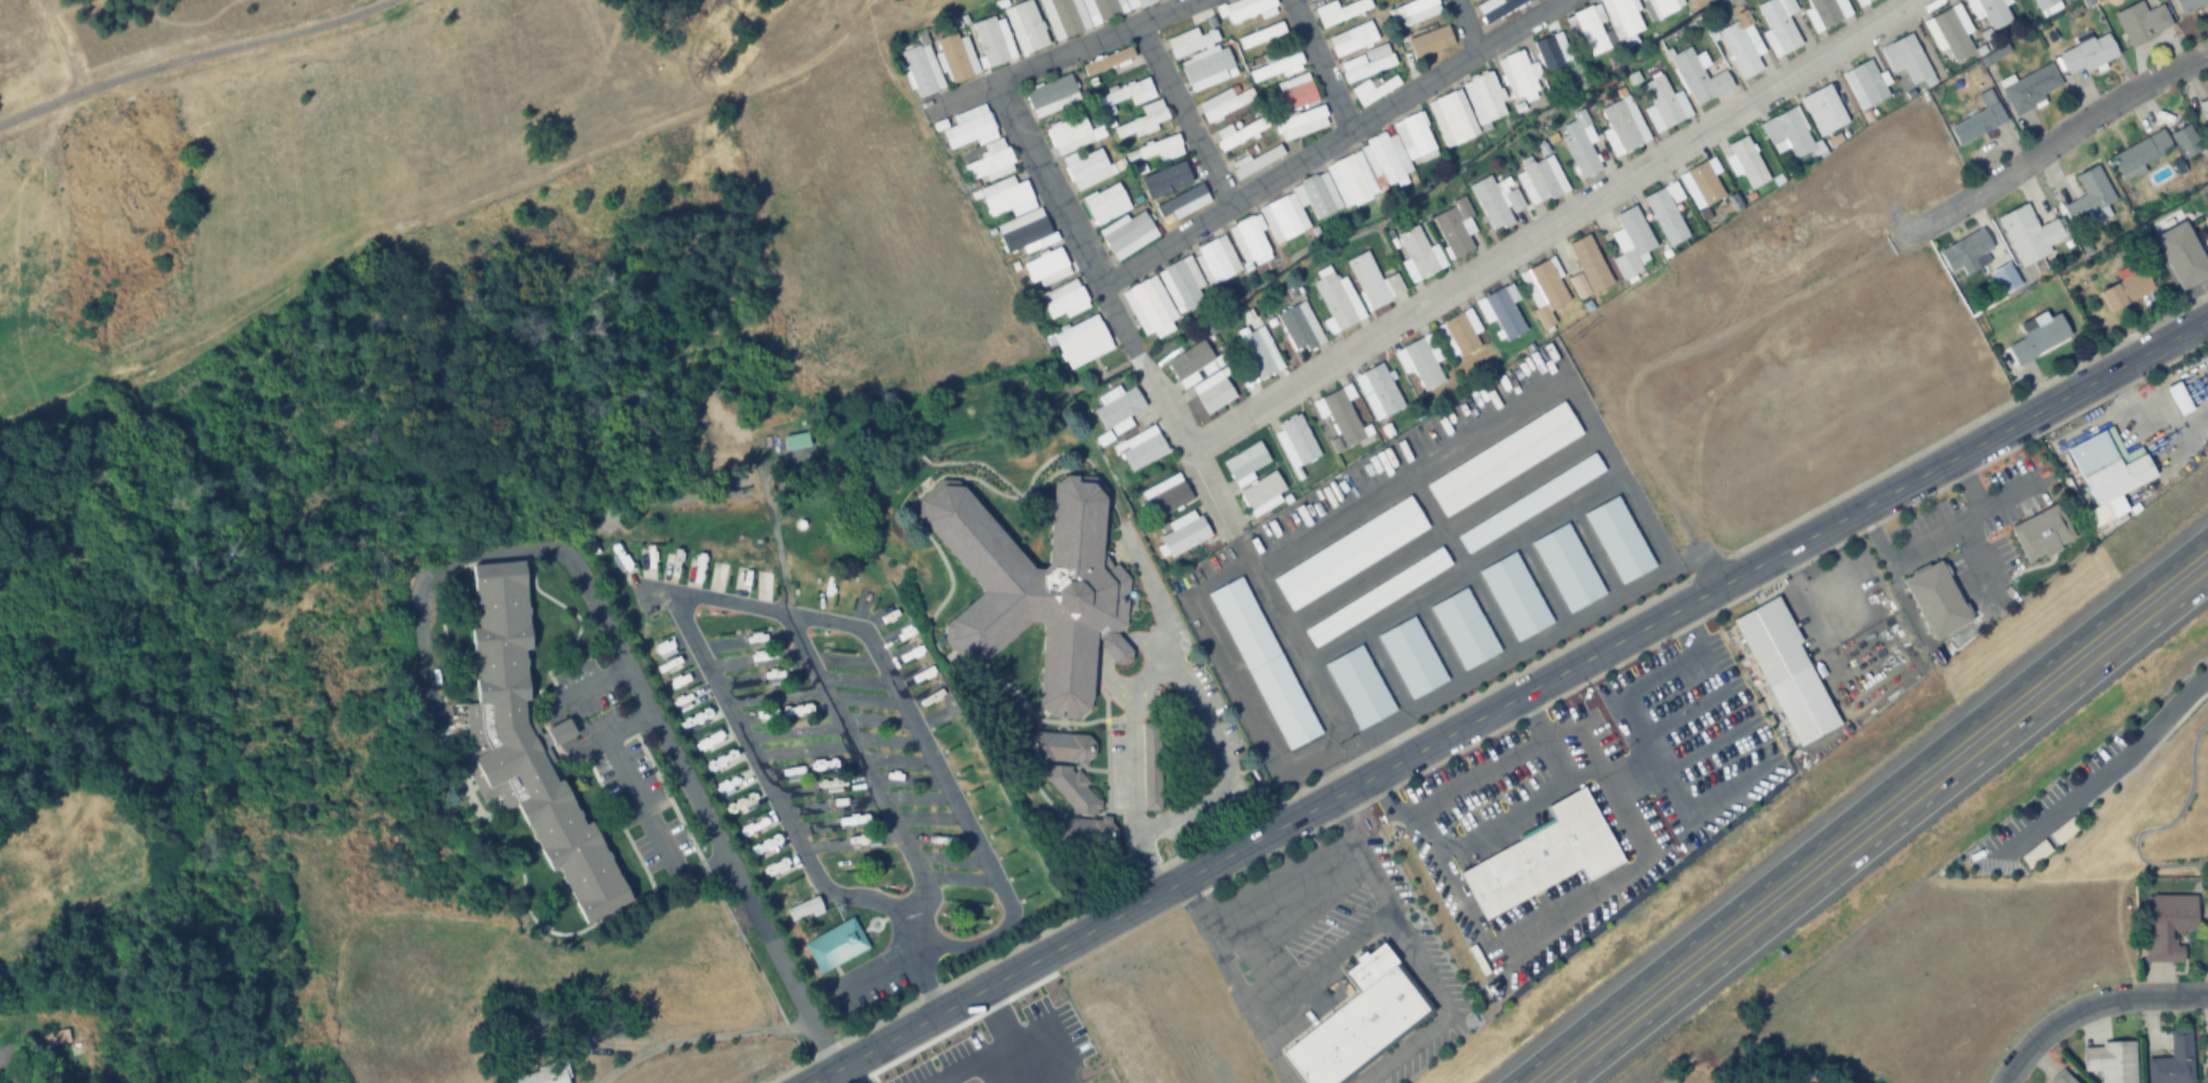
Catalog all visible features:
building: (1308, 0)
building: (1862, 2)
building: (2191, 4)
building: (2046, 5)
building: (1661, 8)
building: (1497, 9)
building: (1245, 10)
building: (1340, 11)
building: (1414, 11)
building: (1990, 11)
building: (1826, 12)
building: (1084, 13)
building: (1623, 17)
building: (2142, 21)
building: (1779, 25)
road: (1464, 26)
building: (1025, 27)
building: (1588, 30)
building: (1947, 34)
building: (1261, 35)
building: (1353, 38)
building: (992, 41)
building: (1431, 41)
road: (60, 46)
building: (1741, 46)
building: (1552, 51)
building: (2087, 51)
road: (196, 55)
building: (954, 57)
road: (881, 58)
building: (1200, 58)
building: (1907, 58)
building: (1115, 61)
building: (1366, 62)
road: (1323, 63)
road: (1456, 63)
building: (921, 70)
building: (1518, 76)
building: (1699, 76)
building: (1863, 85)
road: (1004, 86)
building: (1376, 87)
building: (2030, 87)
building: (1295, 91)
road: (954, 94)
building: (1126, 94)
building: (1051, 96)
building: (1484, 98)
building: (1224, 103)
building: (1664, 104)
building: (2204, 108)
building: (1823, 110)
road: (1184, 116)
building: (1451, 117)
building: (1978, 119)
building: (1142, 121)
building: (1300, 122)
building: (1624, 124)
road: (2070, 127)
building: (1239, 133)
building: (1788, 133)
building: (1071, 134)
building: (2184, 140)
park: (335, 141)
building: (992, 145)
building: (1580, 145)
building: (1157, 149)
building: (2142, 151)
building: (1257, 160)
building: (1746, 162)
building: (1088, 167)
building: (1171, 176)
building: (1349, 177)
building: (1540, 179)
building: (1702, 184)
building: (2088, 194)
building: (1496, 201)
building: (1105, 202)
building: (1182, 203)
road: (1229, 207)
building: (1666, 213)
building: (1014, 214)
road: (1551, 223)
building: (1453, 227)
building: (1127, 234)
building: (2031, 234)
building: (1249, 241)
building: (1630, 242)
building: (1965, 251)
building: (1418, 254)
building: (2182, 254)
building: (1214, 260)
building: (1046, 267)
building: (1588, 267)
building: (1181, 283)
building: (1372, 283)
building: (2126, 287)
building: (1543, 290)
building: (1063, 299)
building: (1335, 300)
building: (1148, 307)
building: (1501, 311)
road: (2206, 320)
building: (1298, 327)
building: (1459, 333)
building: (2037, 338)
building: (1082, 341)
building: (1258, 352)
building: (1420, 362)
building: (1201, 375)
building: (1377, 391)
building: (2178, 398)
road: (1165, 406)
road: (2151, 406)
building: (1117, 410)
building: (1339, 418)
building: (1294, 441)
building: (1139, 448)
building: (1503, 459)
building: (1244, 462)
building: (2106, 472)
building: (1261, 493)
building: (1165, 495)
building: (1530, 503)
building: (2040, 531)
building: (1184, 532)
road: (1932, 537)
building: (1619, 539)
building: (1349, 551)
road: (1702, 553)
building: (1568, 569)
building: (723, 571)
building: (745, 576)
building: (766, 582)
building: (1037, 585)
road: (1799, 592)
building: (1377, 596)
building: (1515, 597)
building: (1937, 599)
road: (1694, 620)
building: (1464, 628)
building: (900, 633)
building: (754, 637)
road: (1135, 642)
building: (1114, 647)
building: (1411, 657)
building: (766, 658)
building: (834, 660)
building: (1263, 662)
building: (1786, 669)
building: (773, 673)
building: (1359, 686)
road: (1485, 686)
building: (786, 693)
building: (928, 694)
road: (1508, 699)
building: (869, 719)
building: (557, 731)
building: (804, 731)
road: (1639, 736)
building: (879, 737)
building: (528, 746)
building: (1060, 746)
road: (2105, 752)
building: (1150, 764)
building: (824, 767)
road: (679, 769)
building: (794, 771)
building: (899, 776)
road: (1473, 780)
building: (1070, 787)
building: (910, 797)
road: (1859, 809)
park: (2150, 811)
building: (920, 816)
road: (655, 827)
building: (1082, 830)
road: (1887, 830)
building: (861, 837)
building: (930, 837)
building: (828, 843)
building: (1543, 856)
building: (951, 877)
park: (112, 880)
road: (1286, 893)
building: (806, 909)
building: (2207, 920)
building: (962, 923)
building: (2167, 924)
building: (838, 943)
road: (917, 949)
road: (933, 997)
road: (2088, 1007)
building: (1359, 1021)
building: (55, 1036)
building: (2110, 1060)
building: (2172, 1060)
building: (2206, 1062)
building: (546, 1074)
building: (2059, 1078)

